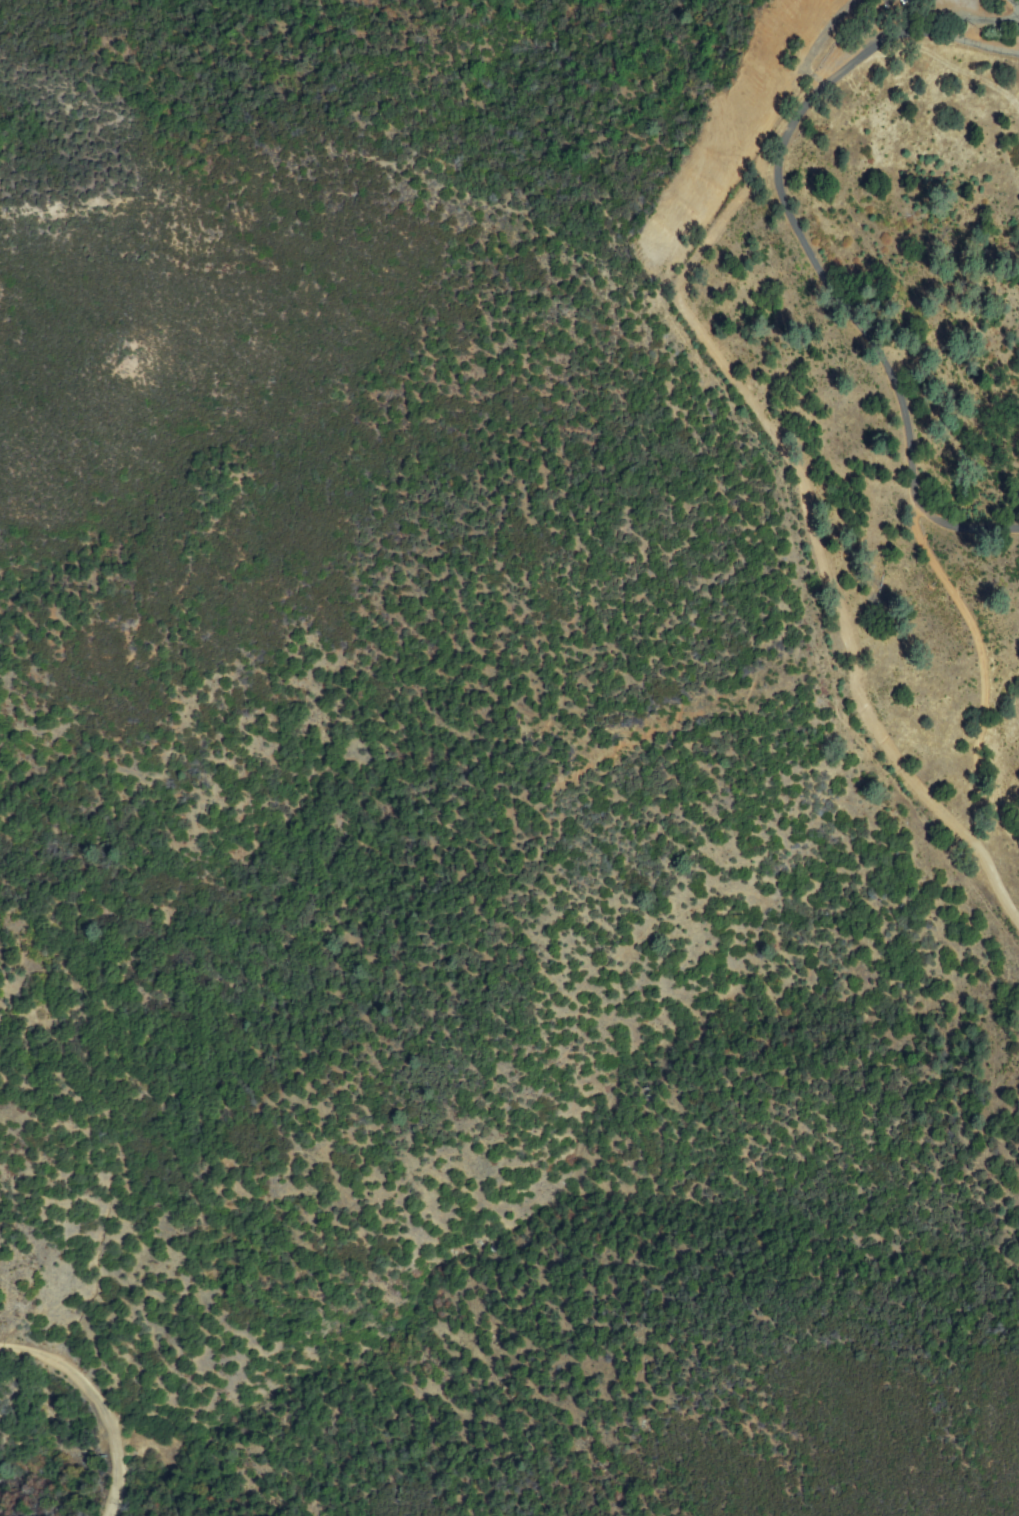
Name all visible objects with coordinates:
road: (788, 199)
road: (967, 530)
road: (988, 669)
road: (98, 1403)

